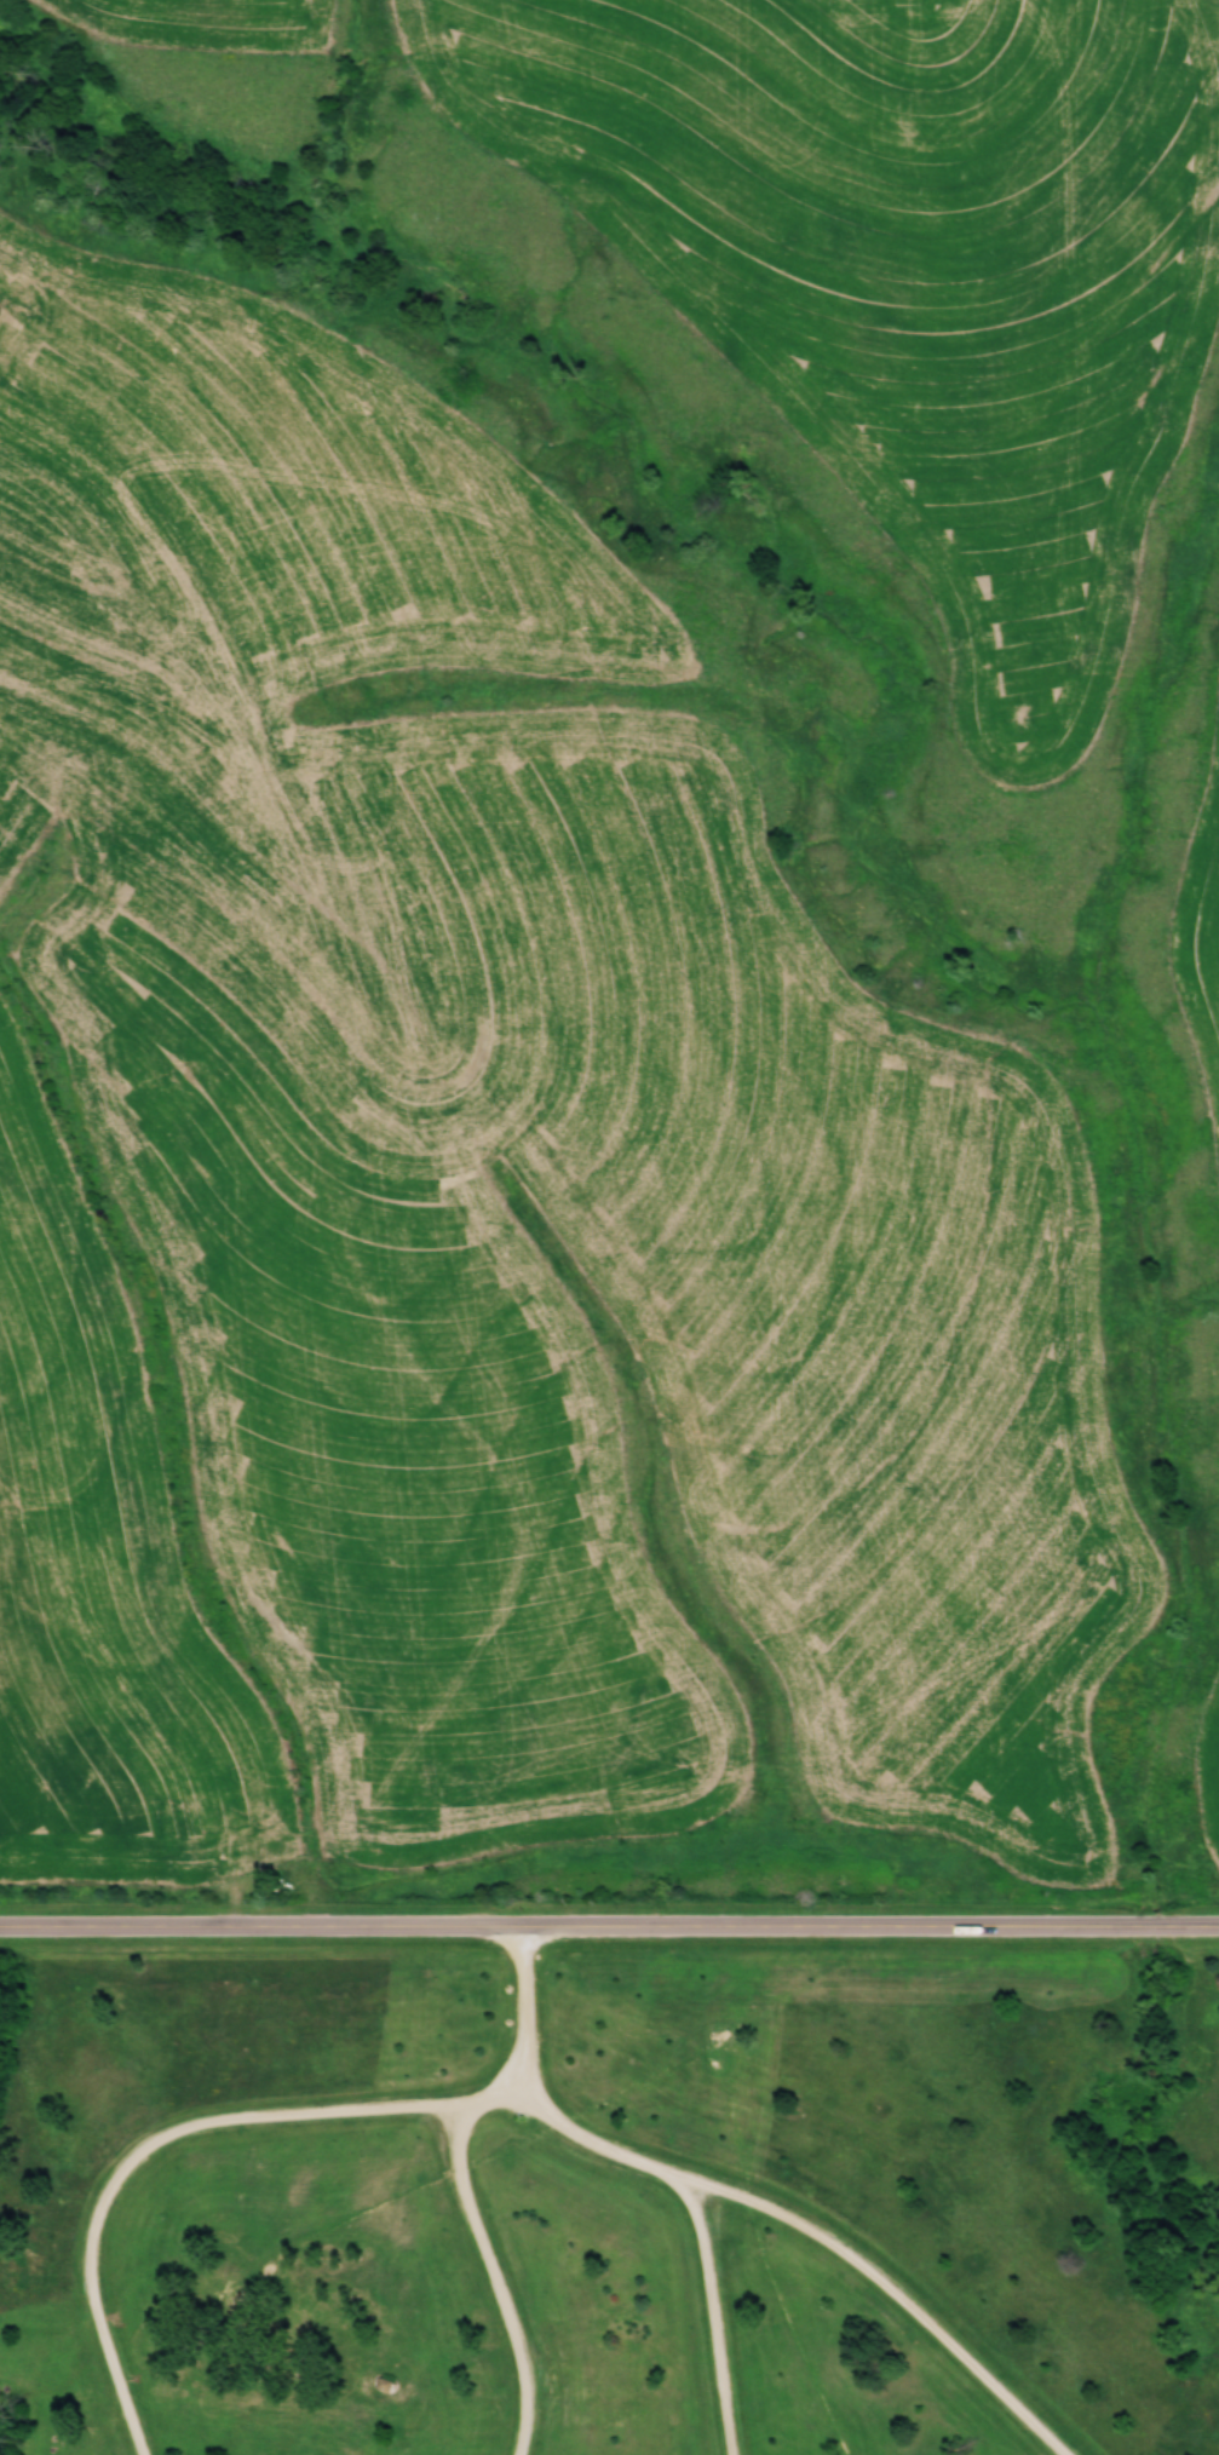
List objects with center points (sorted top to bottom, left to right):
road: (609, 1925)
road: (490, 2099)
road: (528, 2102)
road: (316, 2111)
park: (610, 2189)
road: (782, 2219)

